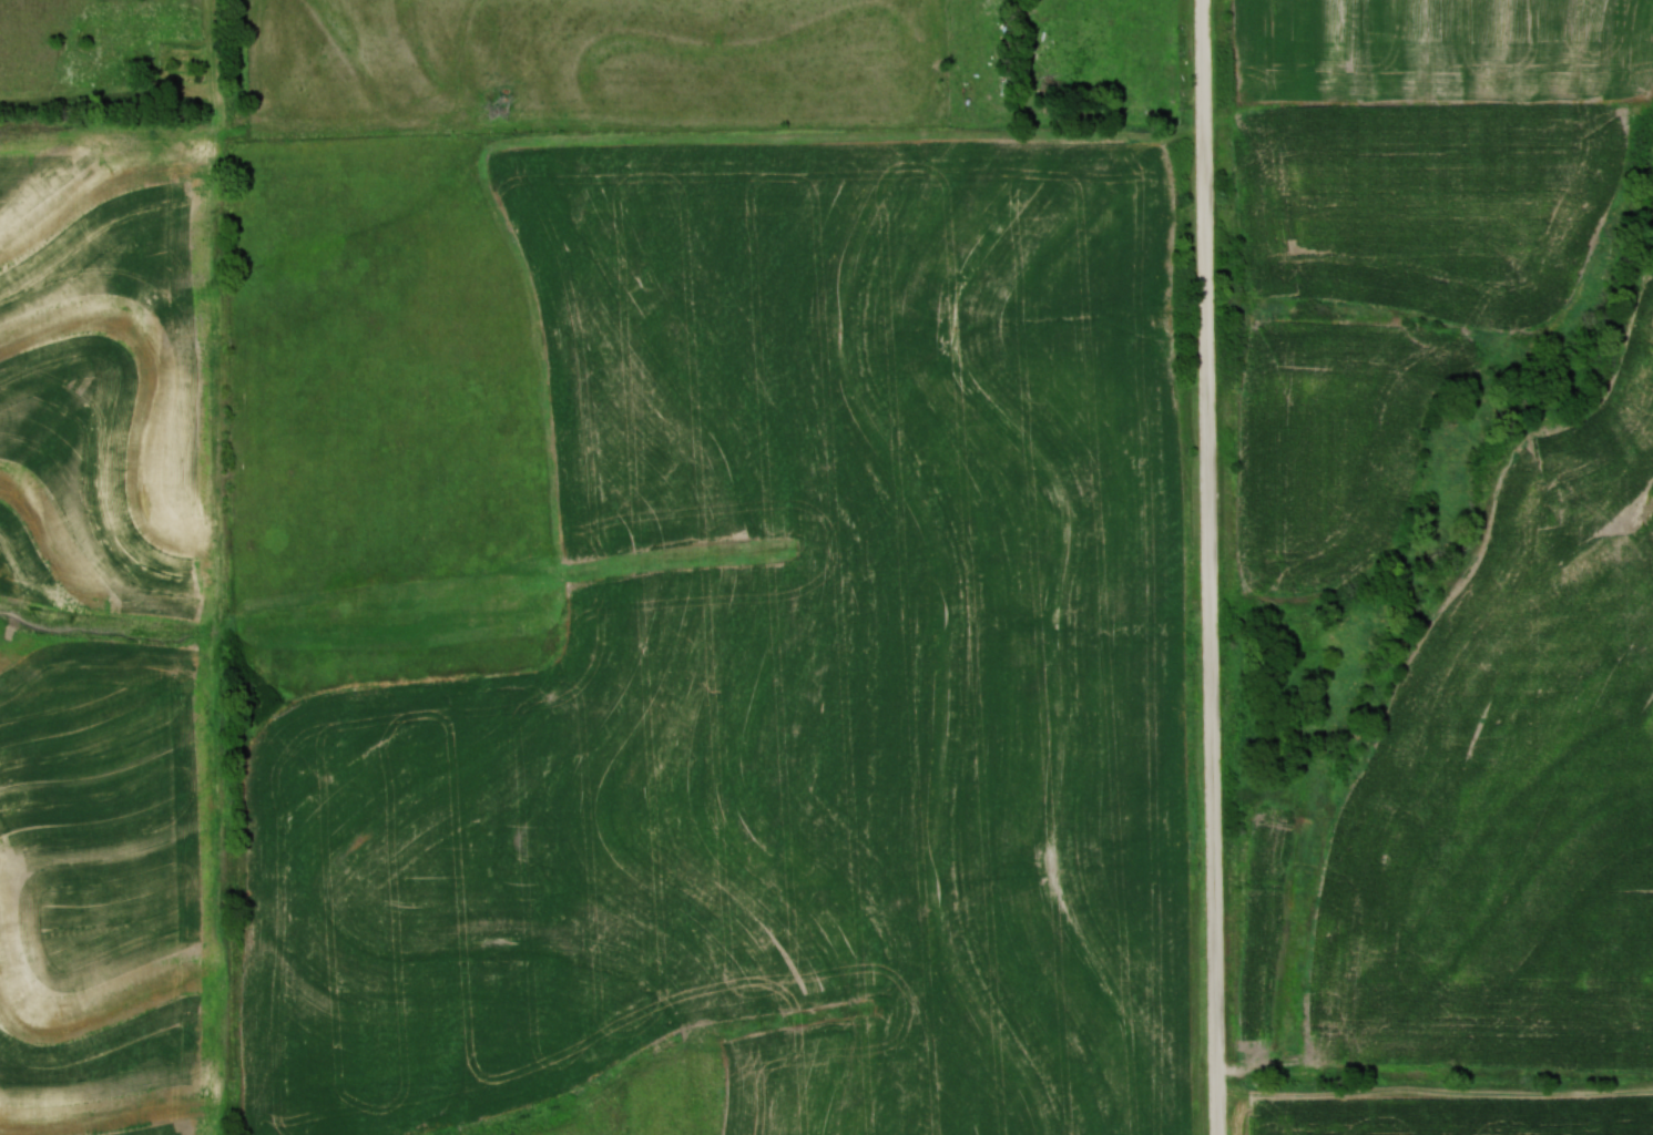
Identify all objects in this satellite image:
road: (1211, 567)

